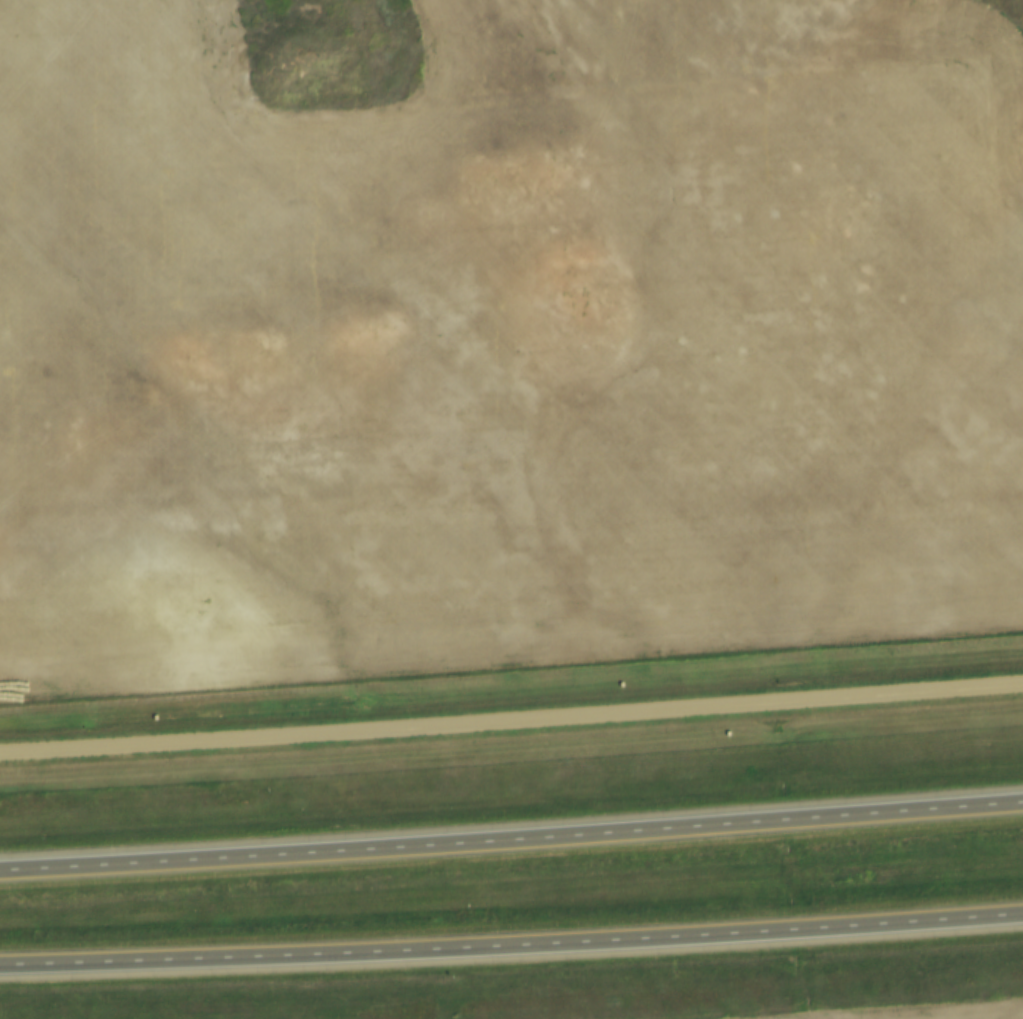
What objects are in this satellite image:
road: (511, 721)
road: (511, 843)
road: (511, 950)

